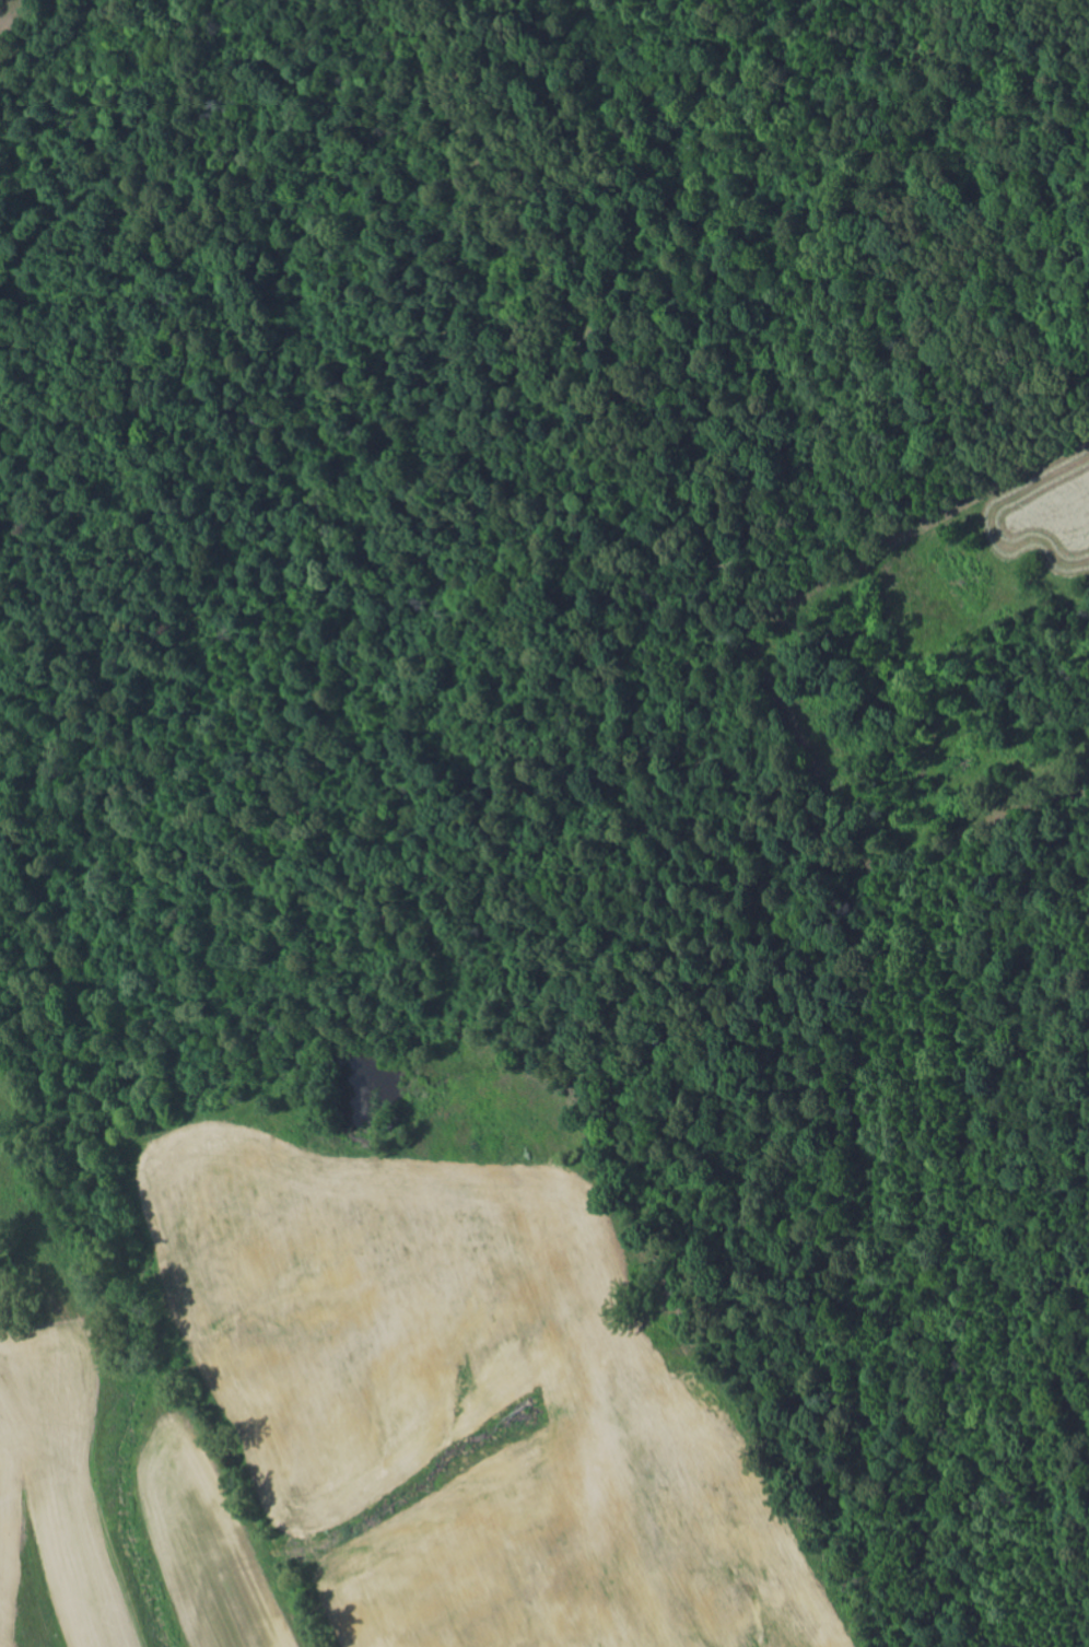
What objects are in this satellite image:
road: (112, 1533)

